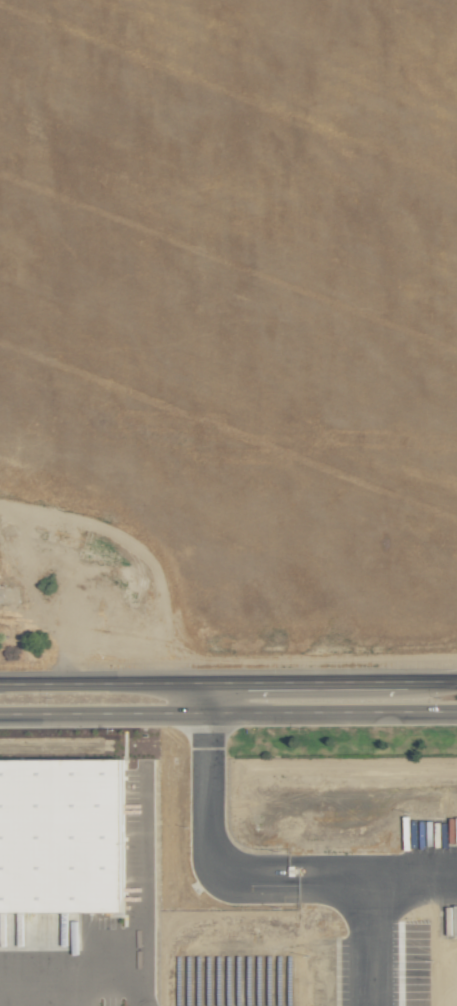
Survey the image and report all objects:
building: (15, 596)
road: (228, 683)
road: (228, 712)
road: (203, 807)
building: (63, 833)
road: (291, 862)
road: (340, 870)
road: (293, 881)
road: (369, 893)
road: (131, 934)
road: (131, 990)

